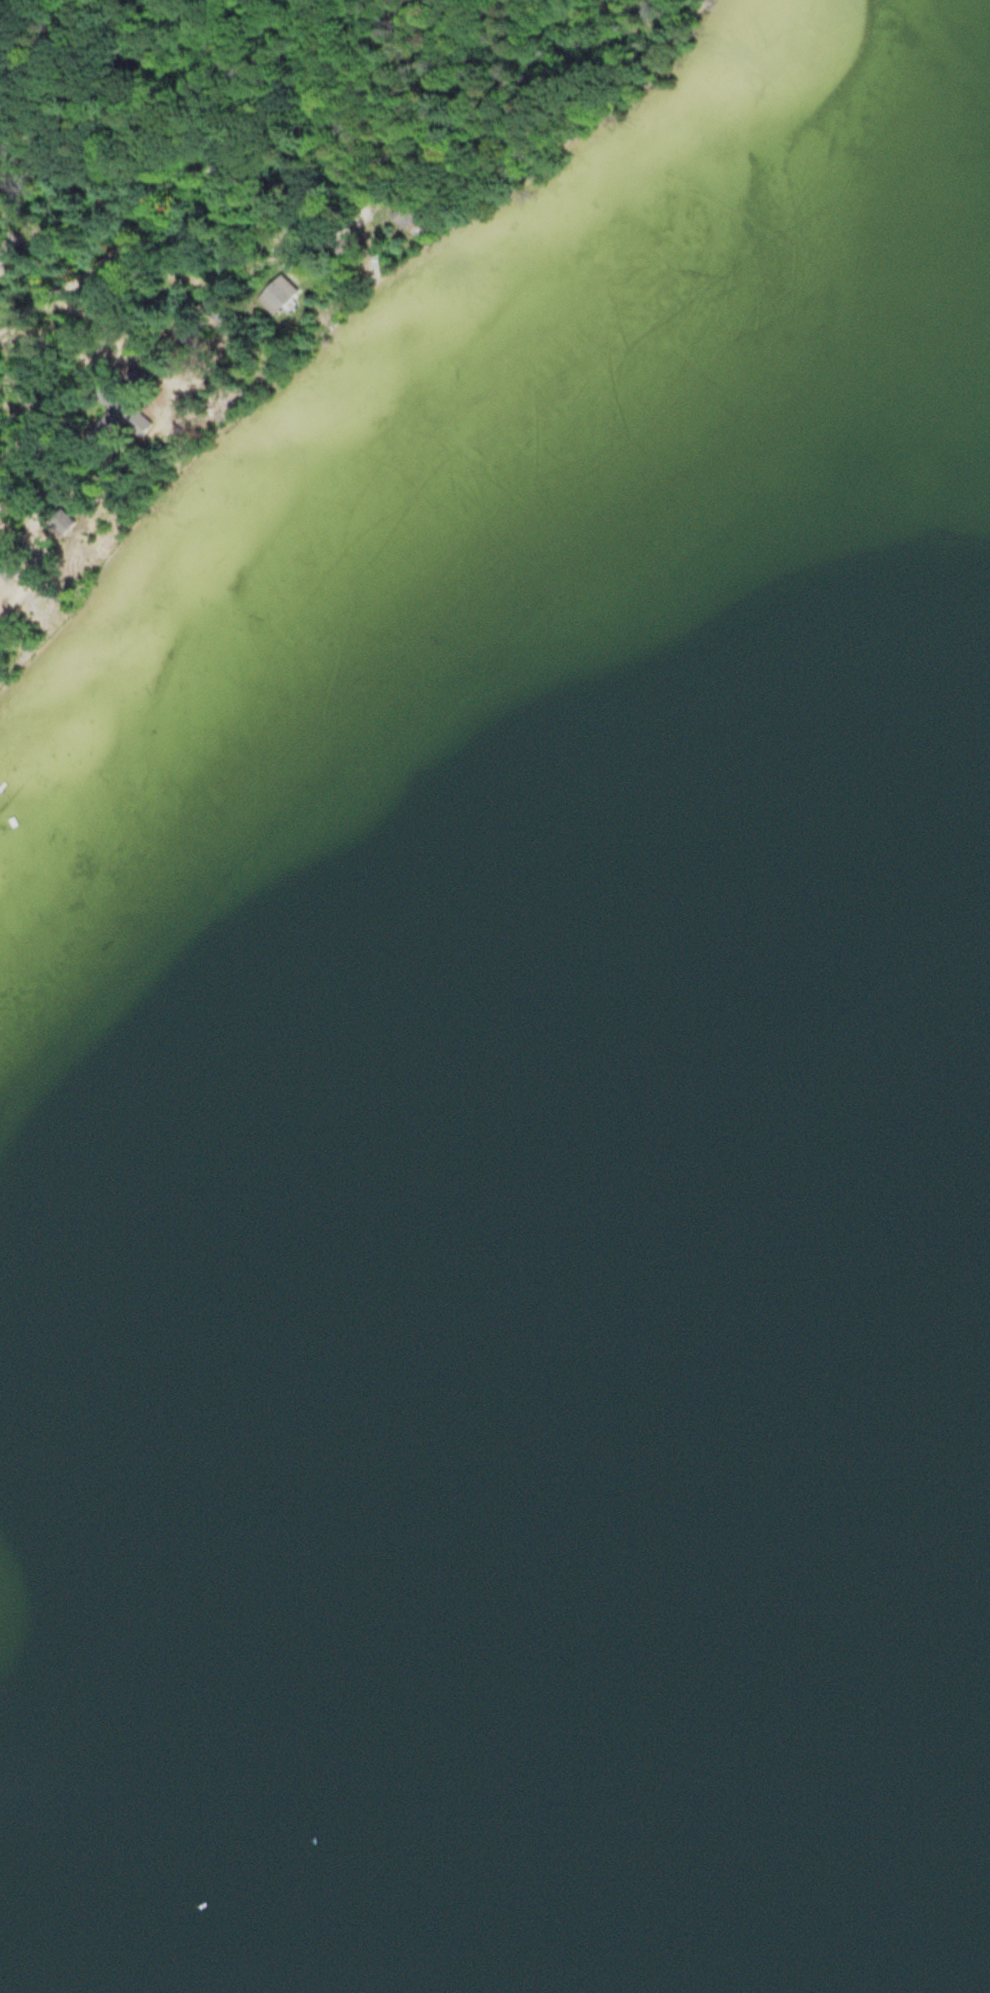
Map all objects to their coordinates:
road: (66, 177)
building: (402, 214)
road: (138, 229)
road: (325, 234)
building: (275, 293)
building: (215, 309)
building: (190, 334)
road: (59, 346)
building: (116, 418)
building: (62, 522)
building: (7, 568)

